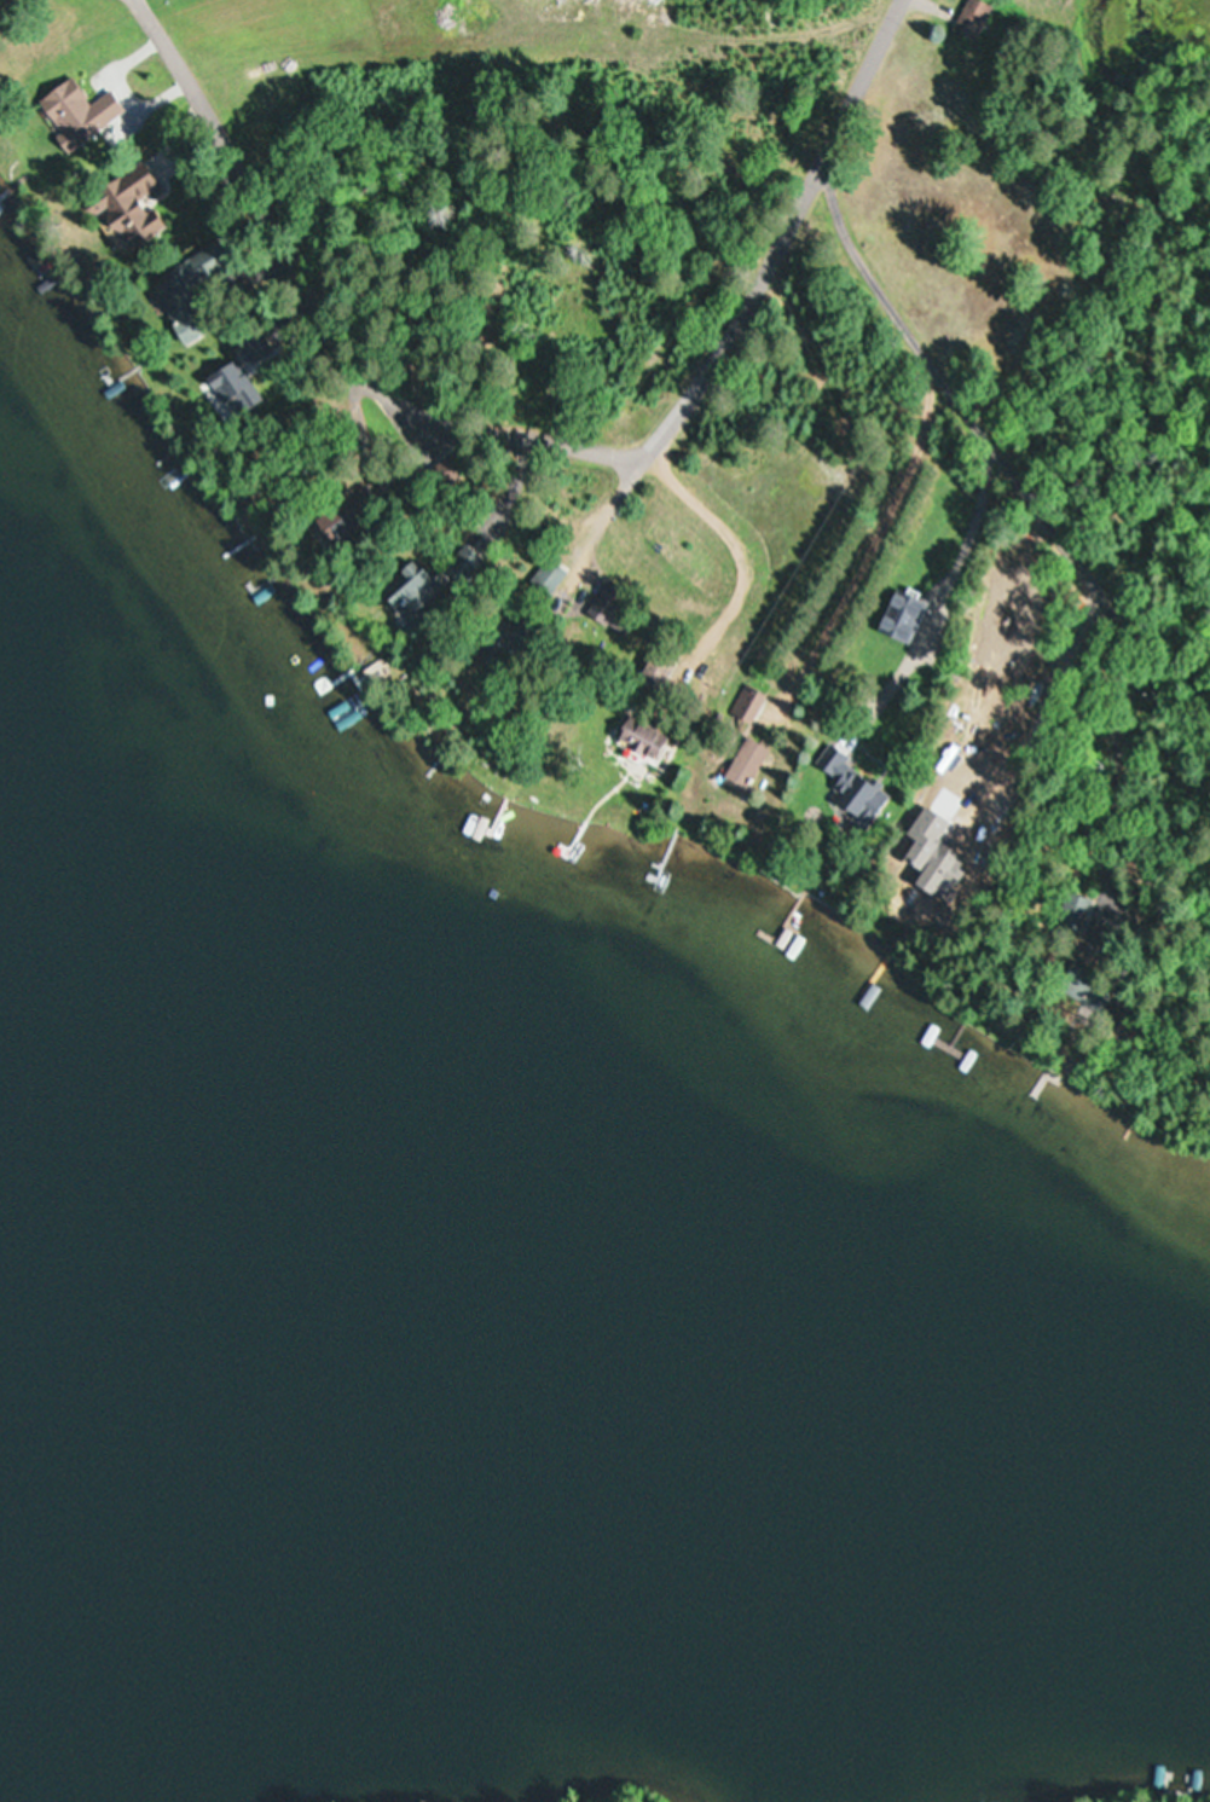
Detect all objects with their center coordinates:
building: (971, 19)
road: (847, 94)
building: (30, 168)
building: (127, 209)
building: (179, 307)
building: (227, 384)
road: (428, 421)
road: (1066, 475)
building: (334, 533)
building: (546, 579)
building: (410, 591)
building: (613, 616)
building: (748, 706)
building: (639, 740)
building: (743, 763)
building: (855, 786)
building: (1073, 978)

